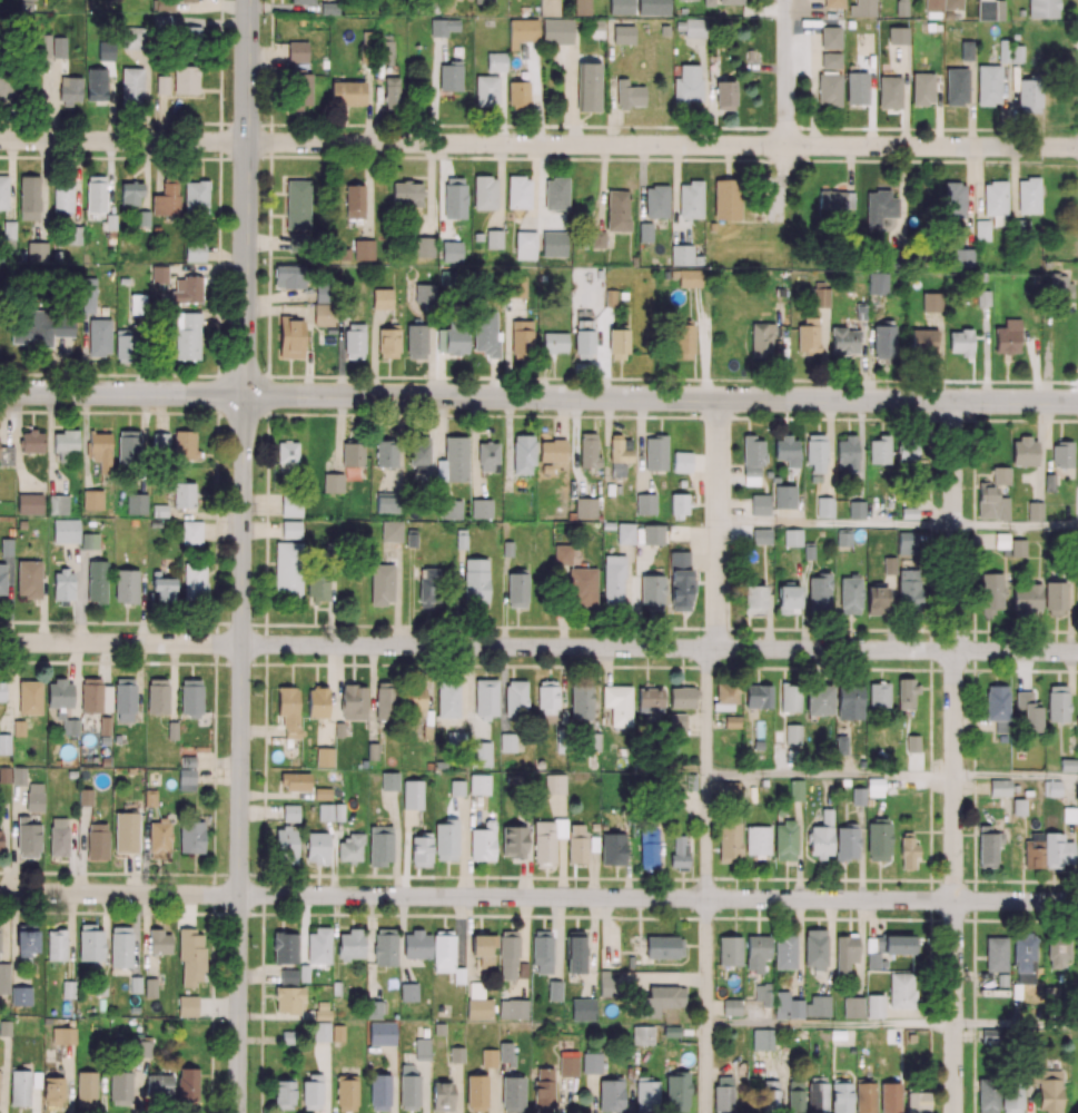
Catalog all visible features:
building: (849, 23)
building: (830, 37)
building: (966, 50)
building: (830, 59)
road: (787, 72)
building: (988, 83)
building: (956, 86)
building: (857, 87)
building: (922, 88)
road: (434, 89)
road: (703, 91)
building: (890, 91)
road: (535, 92)
road: (570, 93)
road: (367, 102)
road: (501, 107)
road: (611, 110)
road: (712, 114)
road: (123, 140)
road: (662, 145)
road: (850, 168)
road: (542, 178)
road: (1015, 181)
road: (642, 183)
road: (978, 183)
road: (500, 186)
road: (533, 186)
road: (602, 187)
road: (429, 189)
road: (368, 190)
building: (3, 191)
road: (441, 191)
building: (485, 191)
building: (518, 191)
building: (555, 193)
road: (675, 194)
road: (901, 196)
road: (246, 197)
road: (968, 197)
building: (655, 200)
building: (297, 204)
building: (142, 218)
building: (645, 232)
building: (477, 236)
building: (493, 238)
building: (597, 238)
building: (423, 246)
building: (363, 249)
building: (37, 250)
building: (344, 253)
building: (57, 254)
building: (681, 255)
building: (698, 259)
building: (159, 273)
building: (382, 297)
road: (985, 354)
road: (940, 356)
road: (122, 394)
road: (661, 397)
road: (1047, 424)
road: (1038, 451)
building: (1049, 482)
building: (1034, 510)
road: (837, 524)
road: (1016, 526)
road: (120, 643)
road: (660, 648)
road: (241, 754)
road: (708, 754)
road: (955, 756)
road: (831, 776)
road: (1016, 778)
road: (120, 894)
road: (659, 897)
road: (831, 1024)
road: (1016, 1025)

